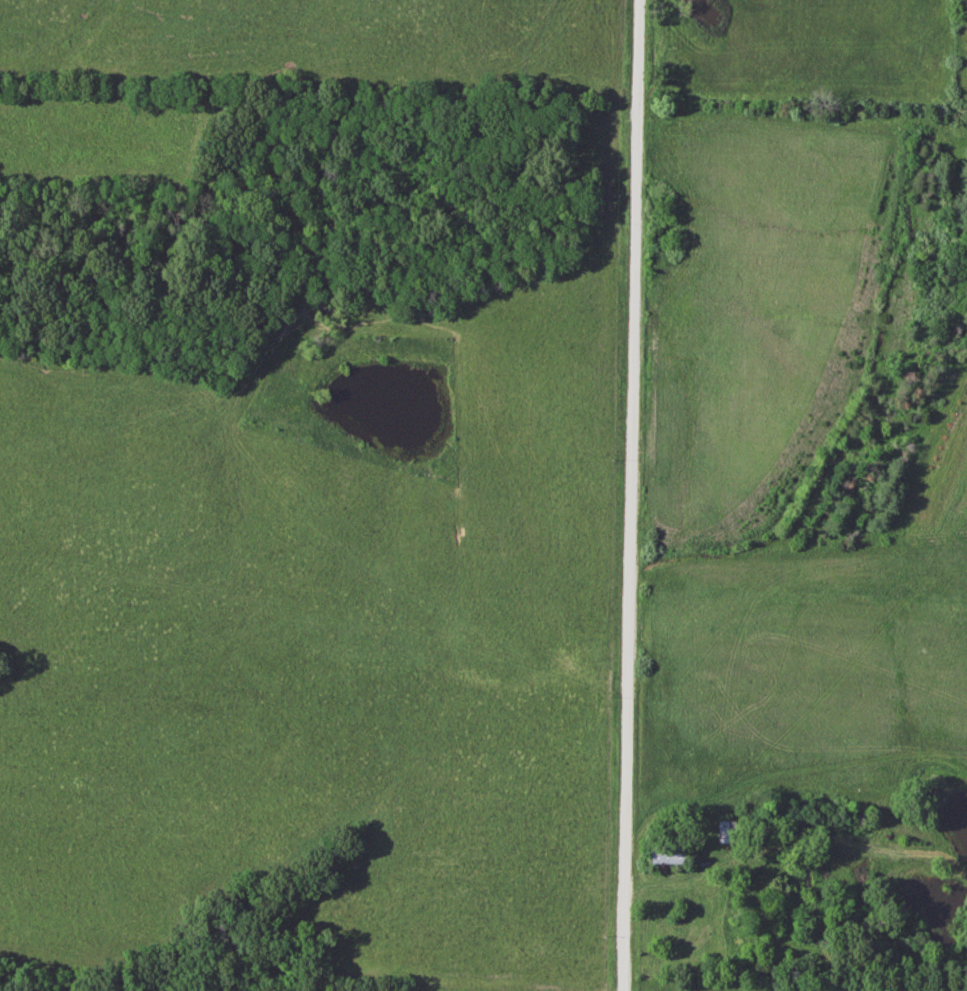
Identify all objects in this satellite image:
road: (633, 495)
building: (726, 831)
building: (664, 855)

